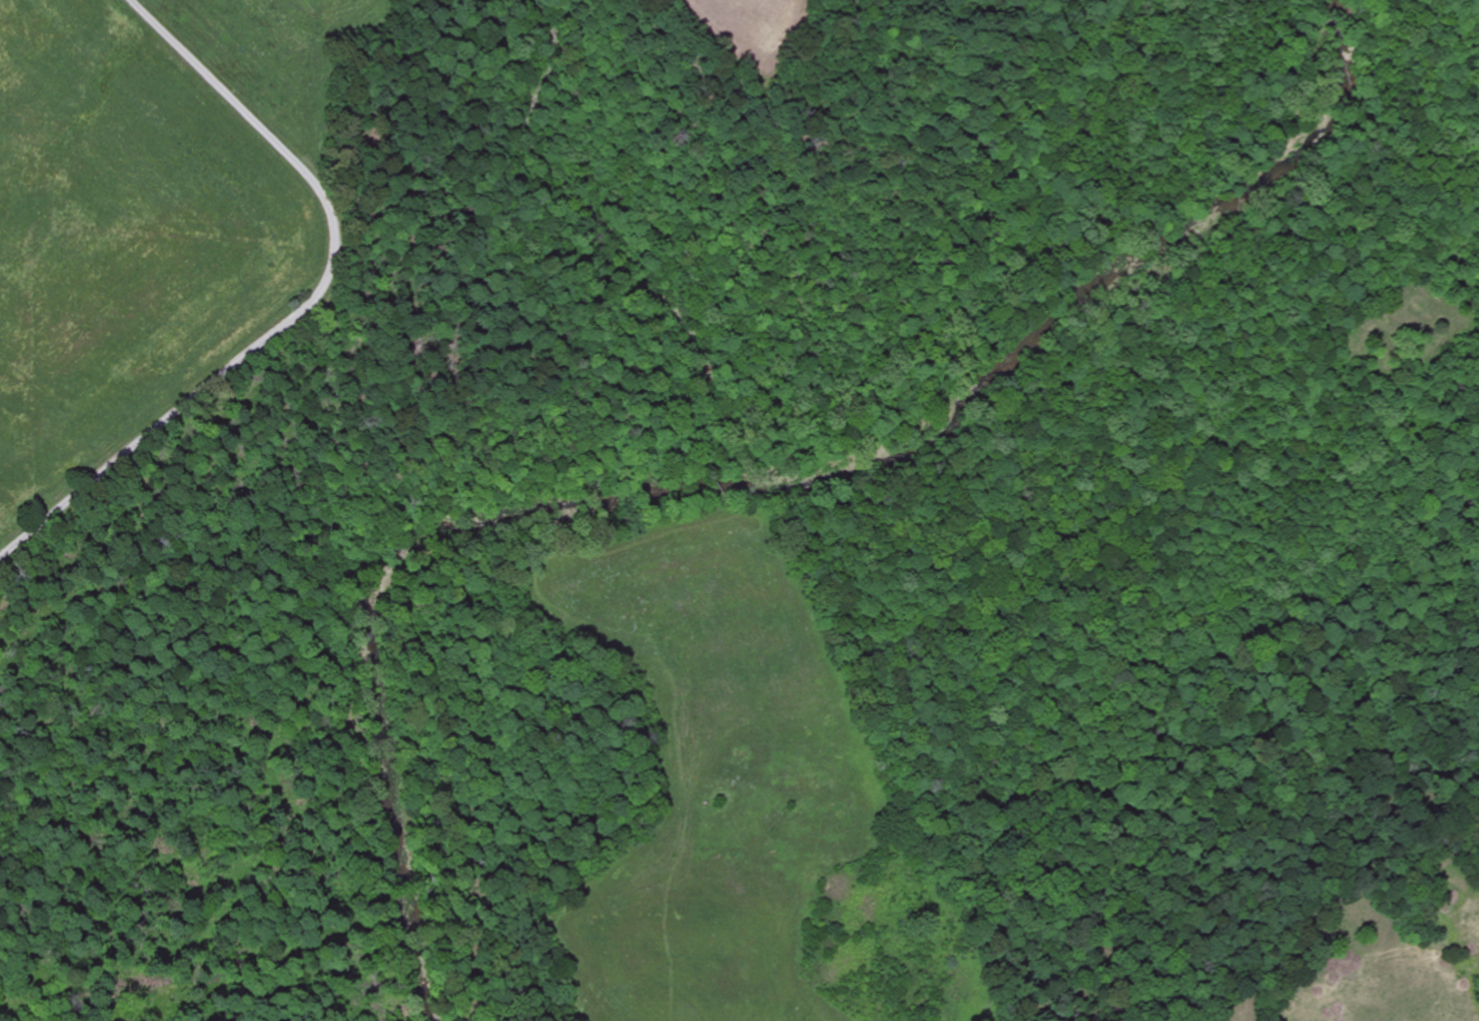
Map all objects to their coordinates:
road: (304, 307)

